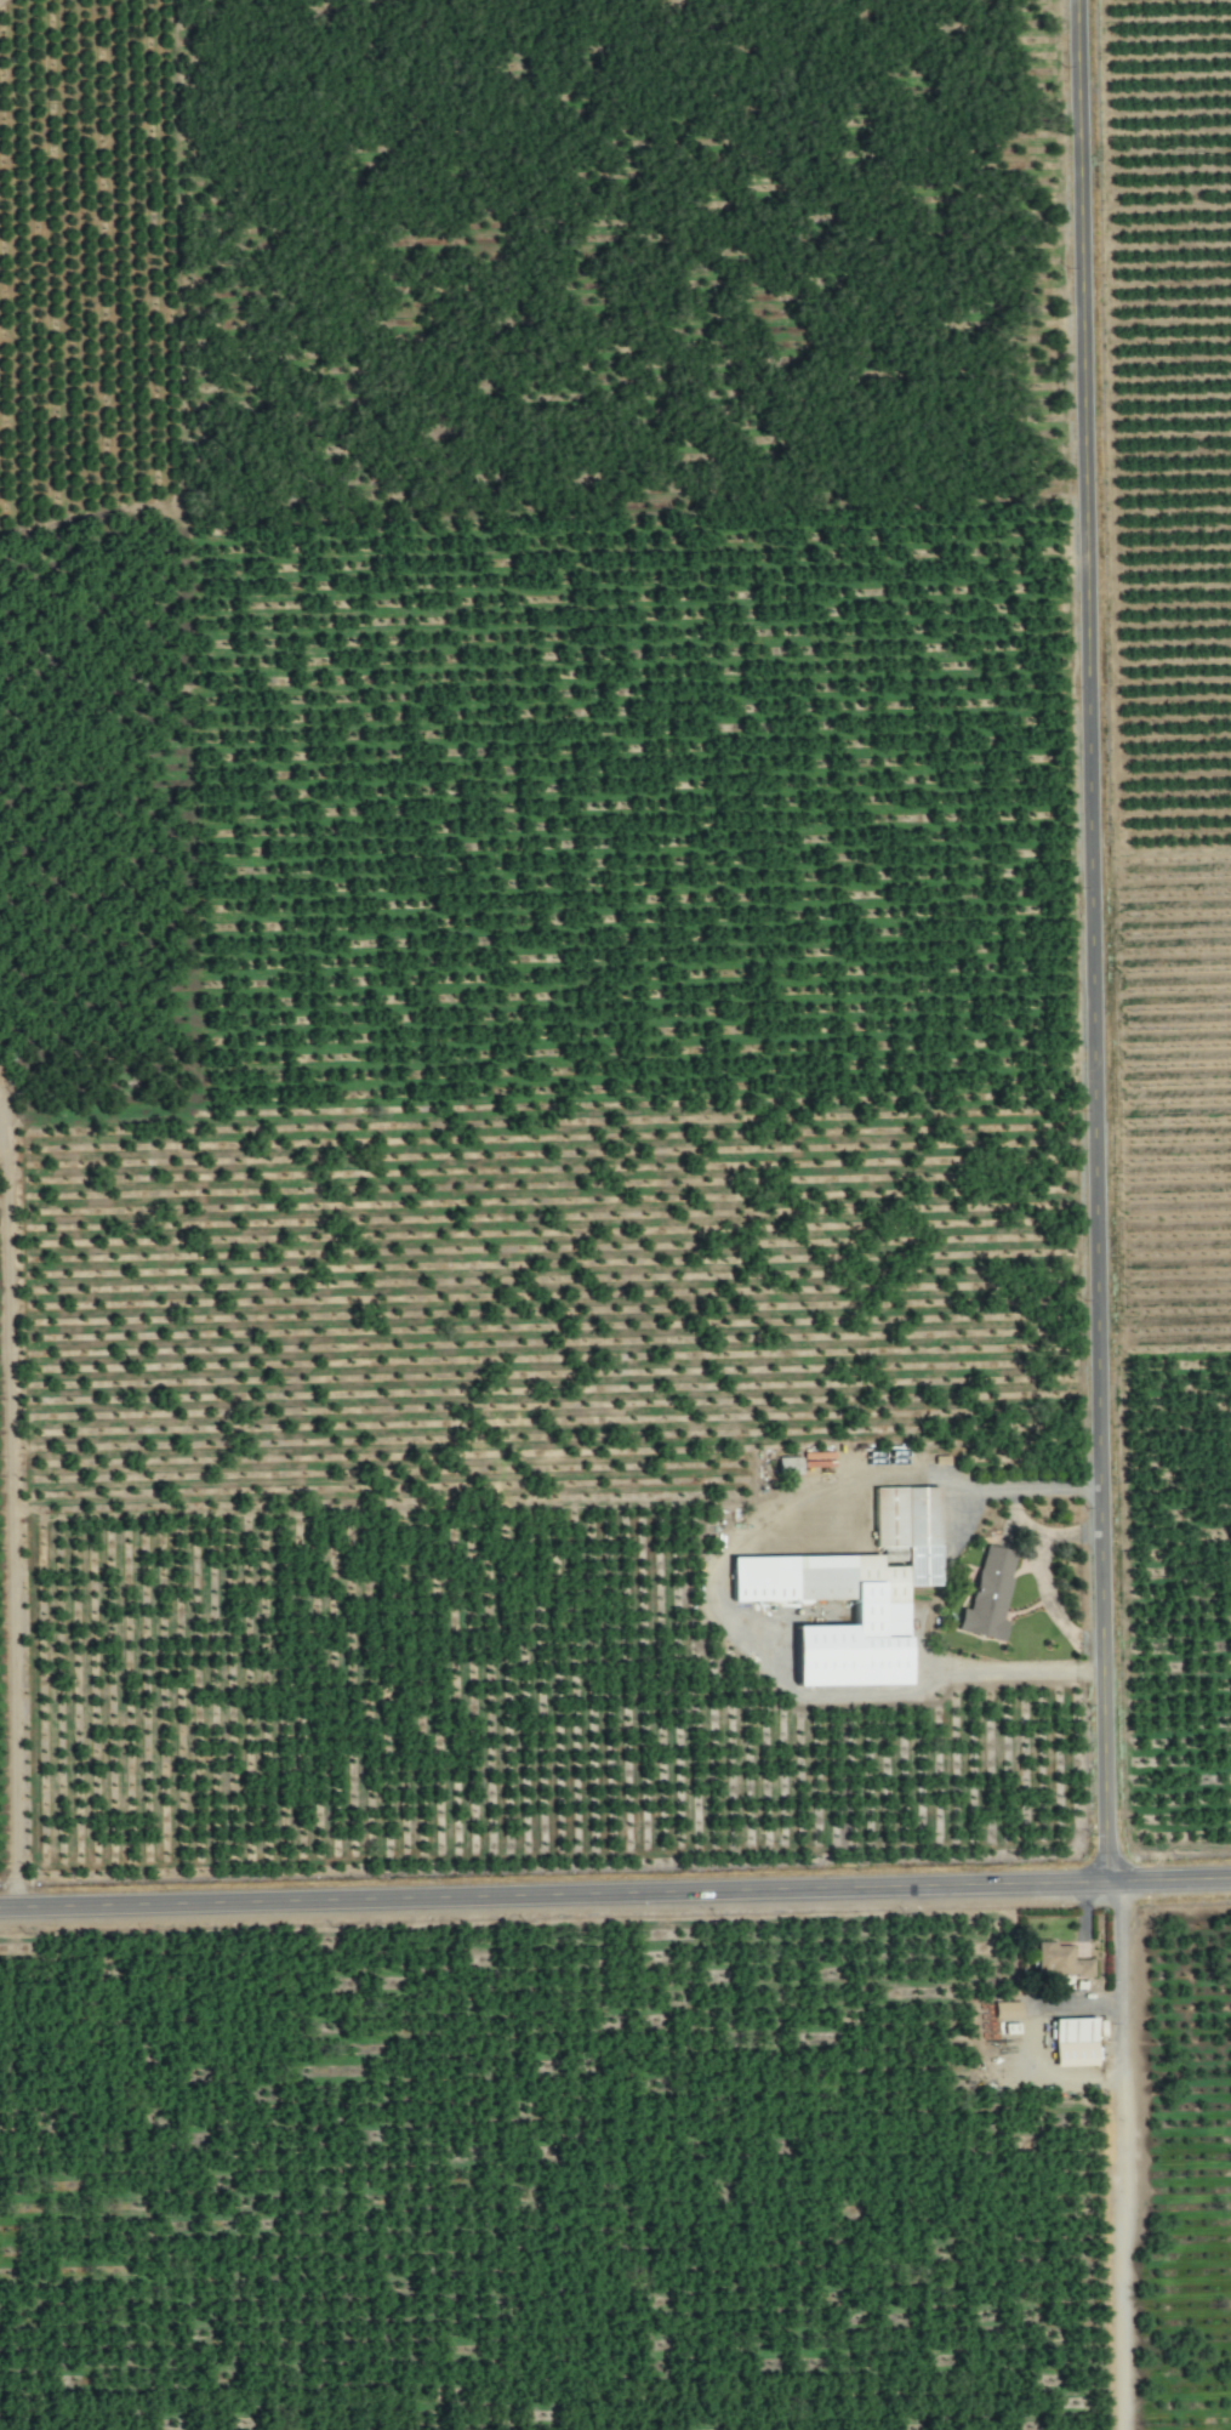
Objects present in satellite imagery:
road: (1092, 941)
building: (788, 1464)
building: (910, 1527)
road: (10, 1533)
road: (719, 1590)
building: (988, 1593)
building: (879, 1611)
road: (615, 1894)
building: (1060, 1959)
building: (1007, 2009)
building: (1075, 2041)
road: (1121, 2156)

